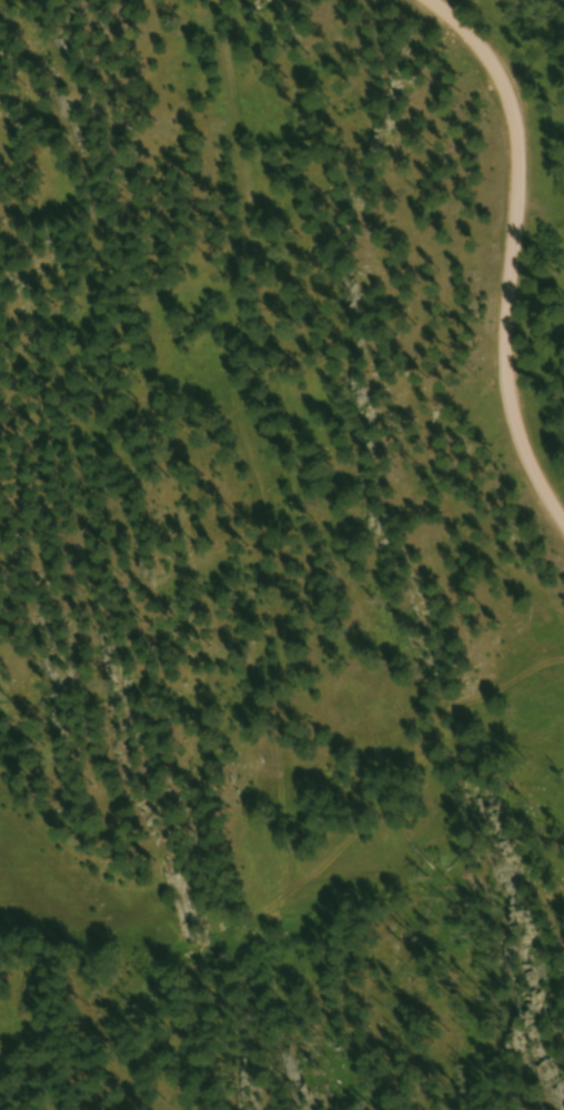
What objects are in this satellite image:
road: (503, 256)

